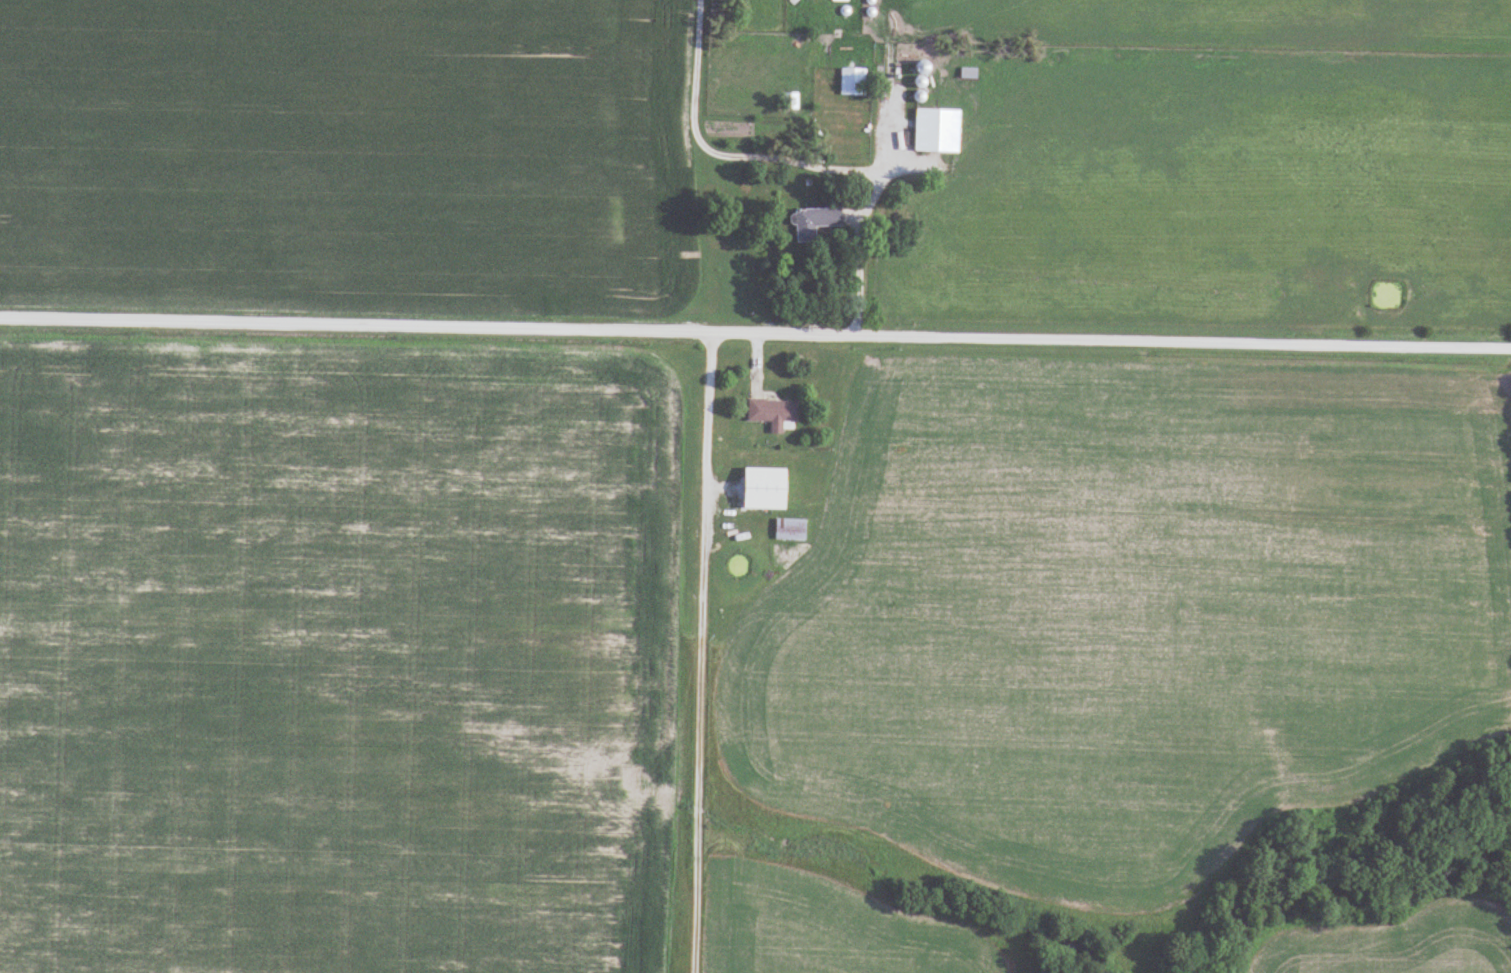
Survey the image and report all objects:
building: (841, 0)
building: (924, 67)
building: (969, 72)
building: (853, 81)
building: (791, 100)
building: (938, 130)
road: (802, 164)
building: (817, 220)
road: (755, 332)
building: (774, 412)
building: (751, 488)
building: (791, 528)
road: (703, 651)

